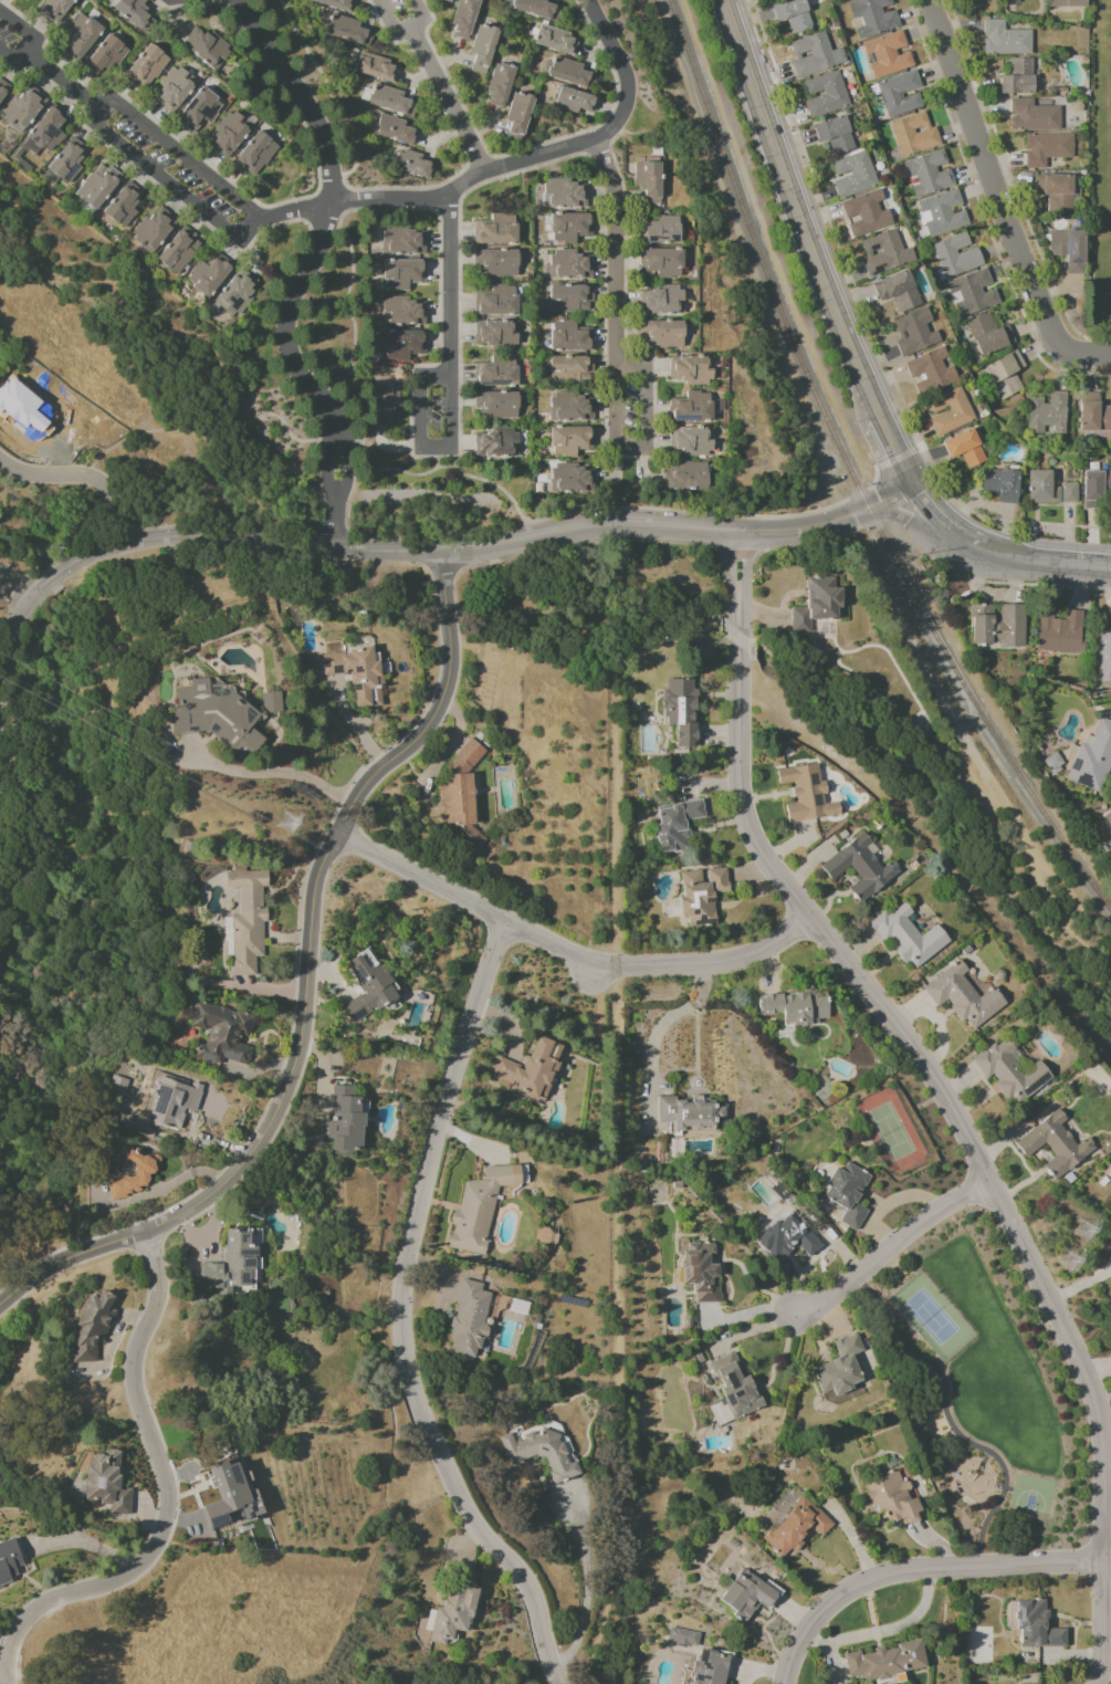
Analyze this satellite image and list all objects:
building: (849, 0)
building: (449, 1)
building: (1012, 2)
building: (338, 4)
building: (1069, 4)
building: (59, 9)
building: (539, 9)
building: (137, 13)
building: (795, 15)
building: (874, 17)
building: (467, 19)
building: (349, 32)
road: (402, 32)
building: (83, 38)
building: (557, 40)
building: (1007, 40)
road: (33, 44)
road: (607, 45)
building: (209, 49)
building: (484, 49)
building: (814, 55)
building: (890, 55)
building: (109, 56)
road: (50, 60)
building: (148, 69)
building: (378, 69)
building: (573, 74)
building: (1020, 79)
road: (62, 81)
building: (502, 85)
road: (326, 87)
building: (4, 91)
building: (177, 91)
building: (902, 94)
road: (300, 95)
building: (827, 95)
road: (447, 100)
building: (576, 101)
building: (394, 102)
road: (623, 105)
building: (25, 109)
building: (201, 111)
building: (521, 117)
building: (1035, 117)
road: (602, 119)
building: (52, 129)
building: (399, 132)
building: (231, 135)
building: (837, 135)
building: (916, 136)
building: (1048, 150)
road: (176, 155)
building: (258, 155)
road: (476, 159)
building: (70, 163)
building: (416, 165)
road: (535, 167)
road: (476, 174)
road: (221, 175)
building: (931, 175)
building: (856, 176)
road: (986, 179)
road: (150, 181)
building: (651, 181)
road: (169, 184)
park: (1099, 184)
road: (1012, 186)
building: (101, 187)
road: (408, 188)
road: (787, 191)
building: (1057, 193)
building: (566, 196)
building: (125, 207)
road: (291, 211)
road: (338, 212)
building: (869, 215)
building: (943, 215)
building: (573, 228)
building: (156, 231)
building: (499, 231)
building: (663, 232)
building: (405, 242)
road: (837, 245)
building: (1071, 250)
road: (612, 251)
building: (181, 252)
building: (887, 254)
building: (958, 257)
building: (499, 263)
building: (664, 263)
building: (573, 266)
building: (406, 274)
building: (211, 275)
building: (900, 292)
building: (975, 293)
building: (239, 294)
building: (573, 299)
building: (499, 302)
building: (664, 302)
building: (405, 313)
road: (290, 316)
road: (348, 322)
building: (916, 334)
building: (499, 335)
building: (664, 335)
building: (992, 336)
building: (573, 338)
building: (406, 346)
road: (1083, 359)
building: (573, 370)
building: (693, 370)
building: (933, 373)
building: (499, 374)
building: (1007, 375)
road: (449, 387)
building: (387, 404)
building: (499, 406)
building: (573, 408)
building: (693, 409)
building: (953, 412)
building: (1050, 415)
building: (1096, 415)
road: (239, 429)
road: (286, 429)
road: (150, 430)
road: (882, 433)
road: (337, 440)
building: (573, 441)
building: (694, 441)
road: (359, 443)
building: (500, 444)
road: (644, 447)
building: (967, 449)
road: (897, 456)
road: (344, 457)
road: (324, 459)
road: (434, 462)
road: (449, 467)
railway: (849, 471)
road: (67, 477)
building: (688, 477)
building: (574, 480)
road: (872, 480)
building: (1004, 485)
building: (1045, 489)
building: (1098, 490)
road: (857, 494)
building: (1072, 494)
road: (888, 496)
road: (336, 501)
road: (921, 504)
road: (685, 511)
road: (902, 517)
road: (125, 520)
road: (337, 520)
road: (622, 522)
road: (804, 526)
road: (956, 535)
road: (128, 536)
road: (337, 537)
road: (621, 541)
road: (250, 542)
road: (497, 544)
road: (767, 547)
road: (461, 551)
road: (589, 554)
road: (737, 554)
road: (499, 558)
road: (1044, 561)
road: (471, 564)
road: (54, 576)
road: (737, 579)
road: (11, 586)
road: (595, 586)
building: (819, 605)
road: (11, 625)
building: (1000, 626)
building: (1062, 632)
road: (737, 639)
building: (1105, 655)
building: (356, 673)
park: (164, 686)
building: (679, 710)
building: (213, 714)
building: (1091, 756)
building: (1051, 764)
road: (266, 772)
building: (805, 794)
building: (459, 795)
road: (12, 813)
building: (1108, 820)
power tower: (289, 824)
building: (674, 824)
building: (858, 867)
road: (107, 893)
building: (699, 895)
building: (245, 920)
building: (906, 935)
road: (565, 952)
road: (305, 984)
building: (367, 985)
building: (961, 996)
building: (793, 1006)
road: (656, 1029)
building: (219, 1032)
building: (528, 1068)
building: (1008, 1071)
building: (116, 1084)
building: (171, 1101)
building: (688, 1112)
building: (344, 1120)
road: (615, 1138)
road: (966, 1144)
building: (1052, 1144)
building: (136, 1171)
building: (846, 1193)
building: (478, 1209)
power tower: (1086, 1233)
building: (786, 1237)
road: (890, 1249)
building: (232, 1262)
building: (699, 1270)
road: (1078, 1284)
road: (399, 1316)
park: (932, 1317)
building: (468, 1319)
building: (90, 1327)
building: (838, 1372)
park: (997, 1378)
building: (734, 1385)
building: (539, 1451)
building: (105, 1482)
building: (224, 1492)
road: (165, 1494)
park: (1034, 1495)
building: (892, 1496)
building: (794, 1527)
road: (912, 1568)
road: (587, 1584)
building: (743, 1593)
building: (450, 1614)
building: (1034, 1624)
road: (883, 1629)
building: (681, 1636)
building: (884, 1660)
building: (709, 1667)

